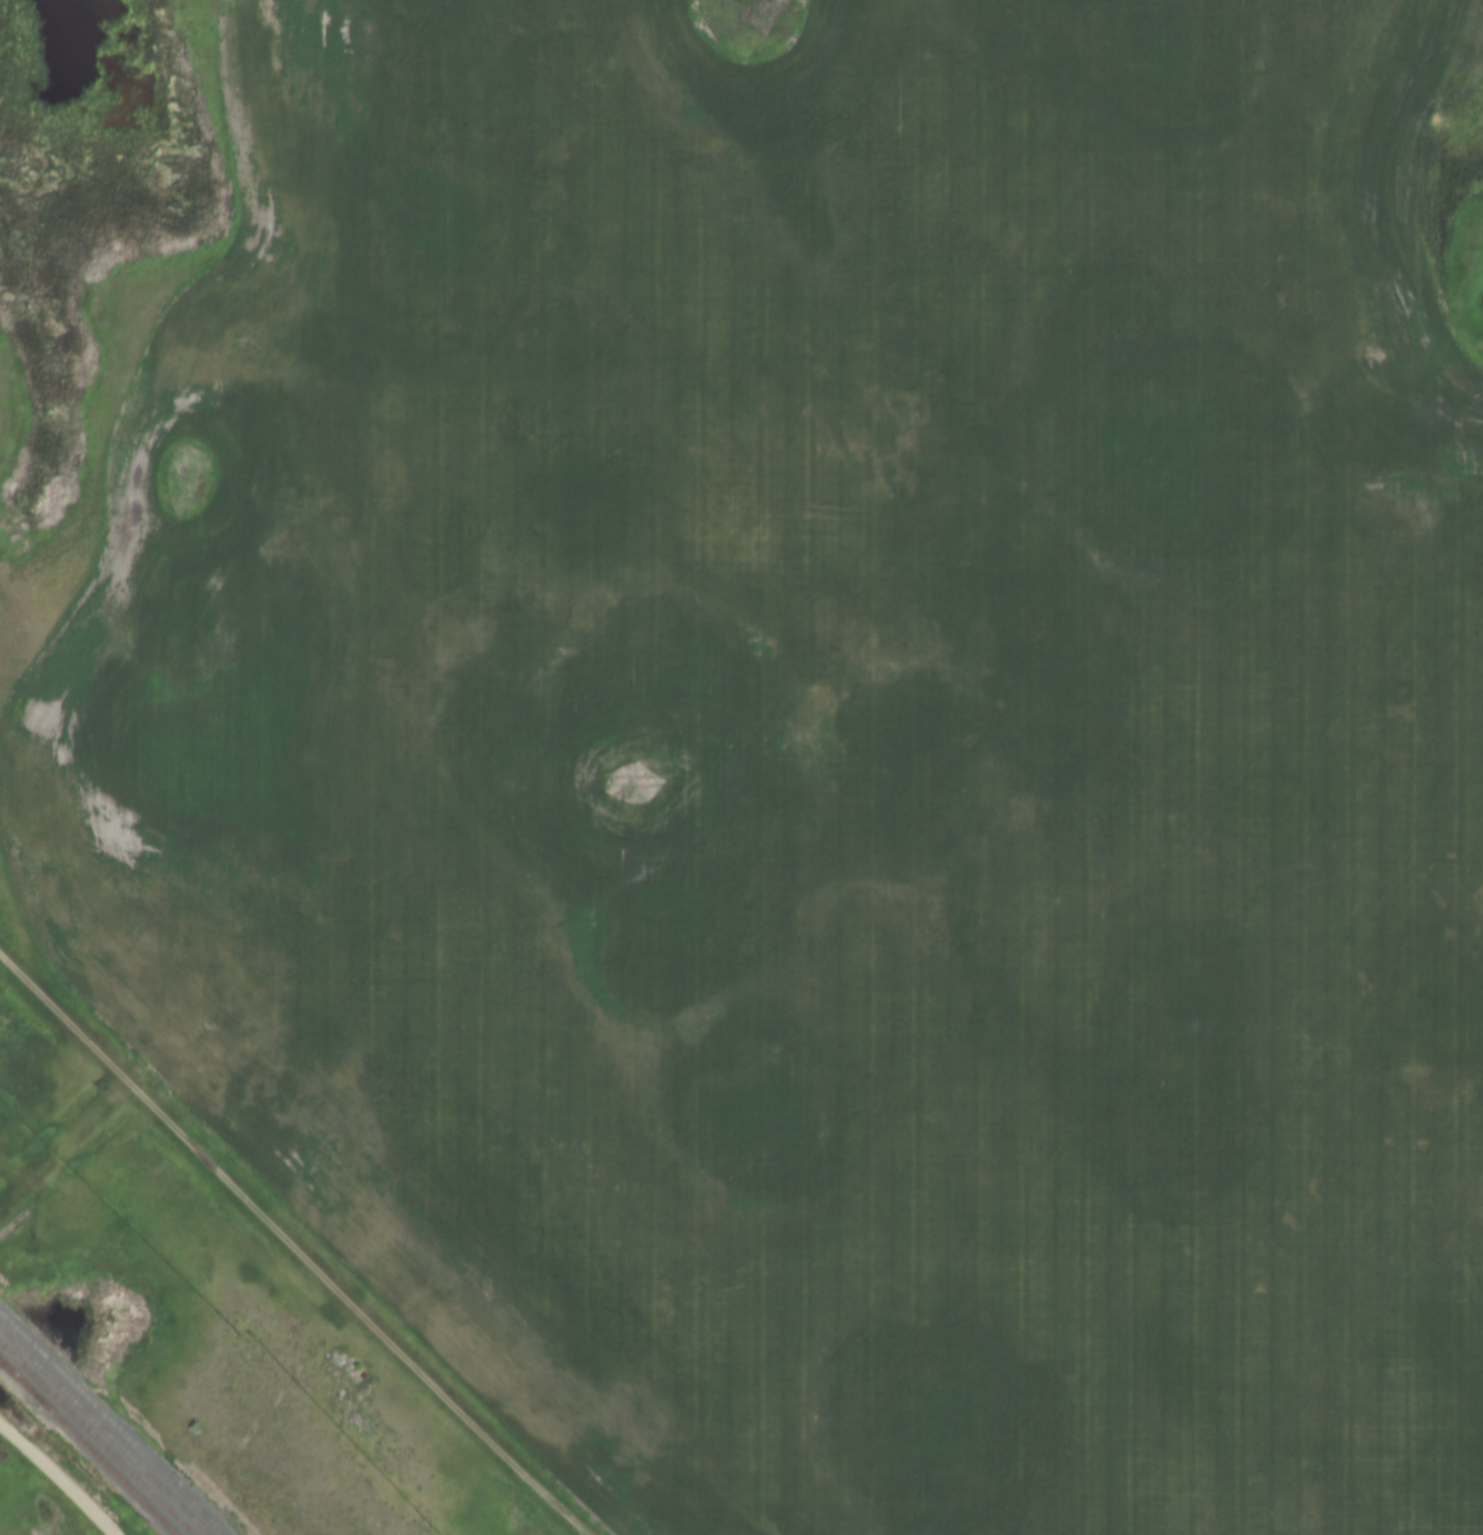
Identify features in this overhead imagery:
road: (290, 1247)
railway: (20, 1381)
road: (269, 1418)
railway: (112, 1422)
railway: (105, 1430)
railway: (97, 1438)
railway: (89, 1447)
road: (57, 1479)

